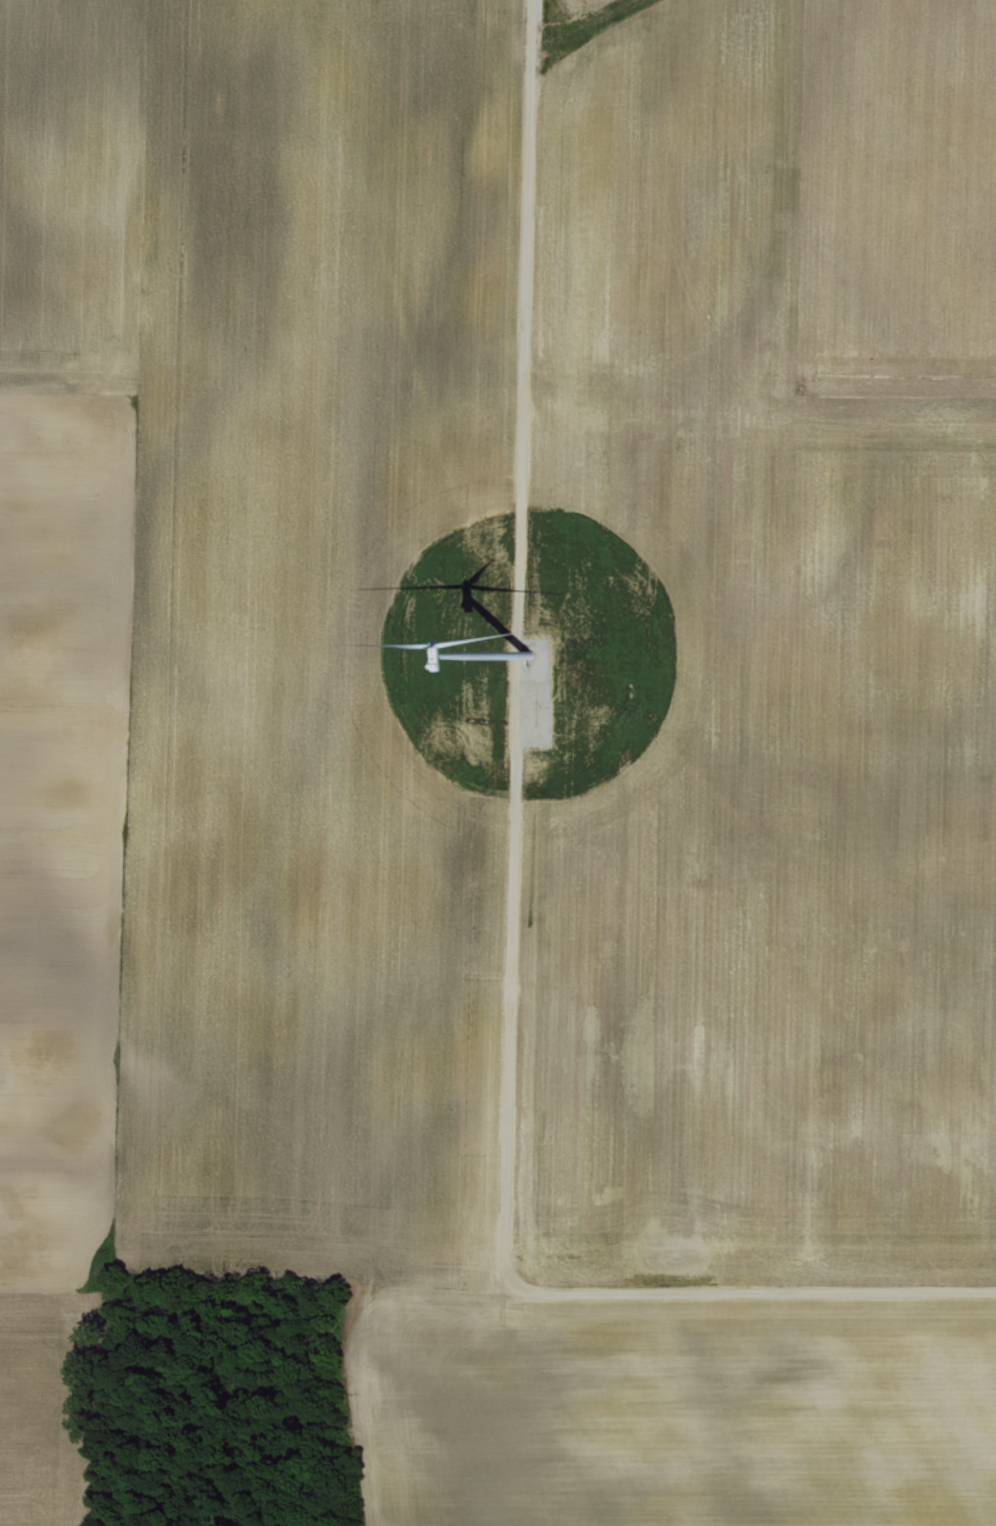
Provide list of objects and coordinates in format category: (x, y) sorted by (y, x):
wind turbine: (526, 653)
road: (513, 884)

